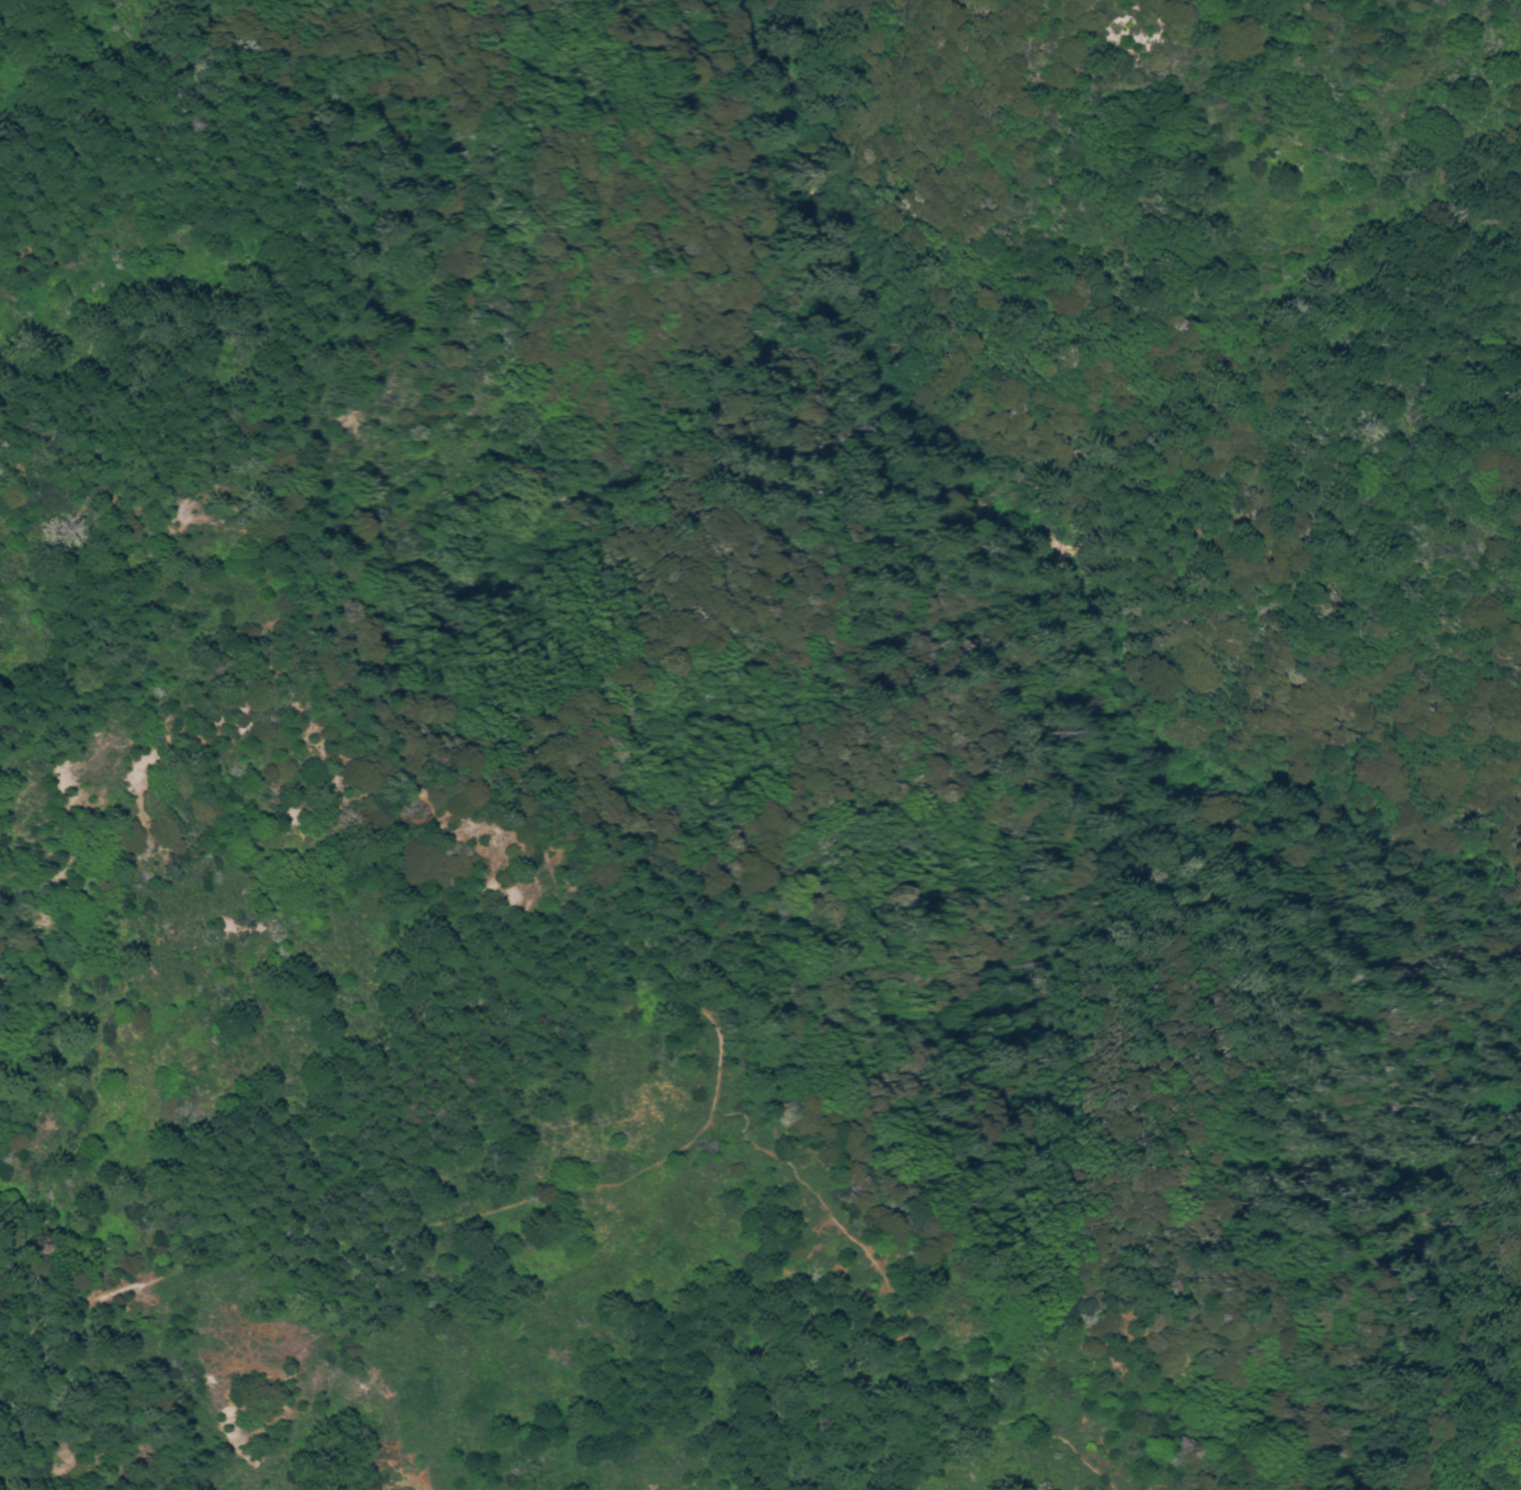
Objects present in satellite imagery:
road: (608, 840)

